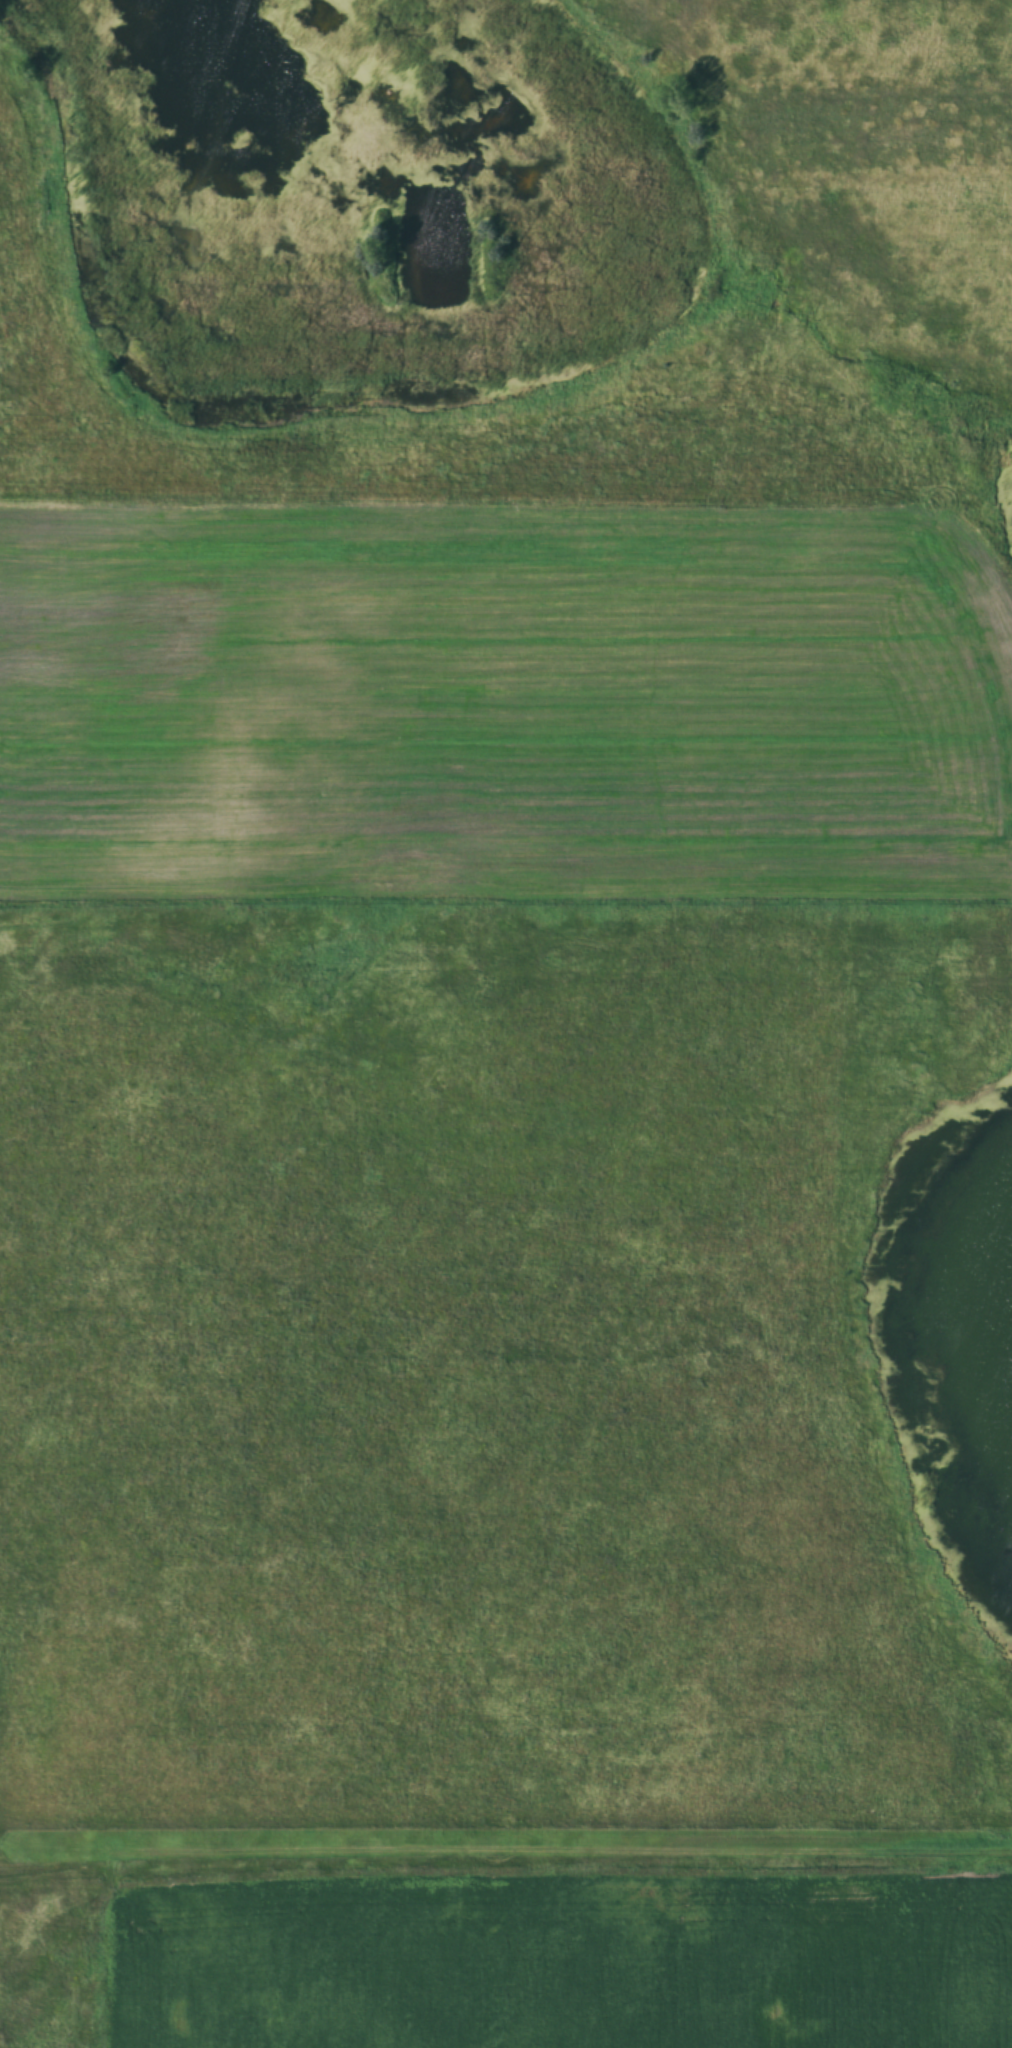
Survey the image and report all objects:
road: (505, 1869)

